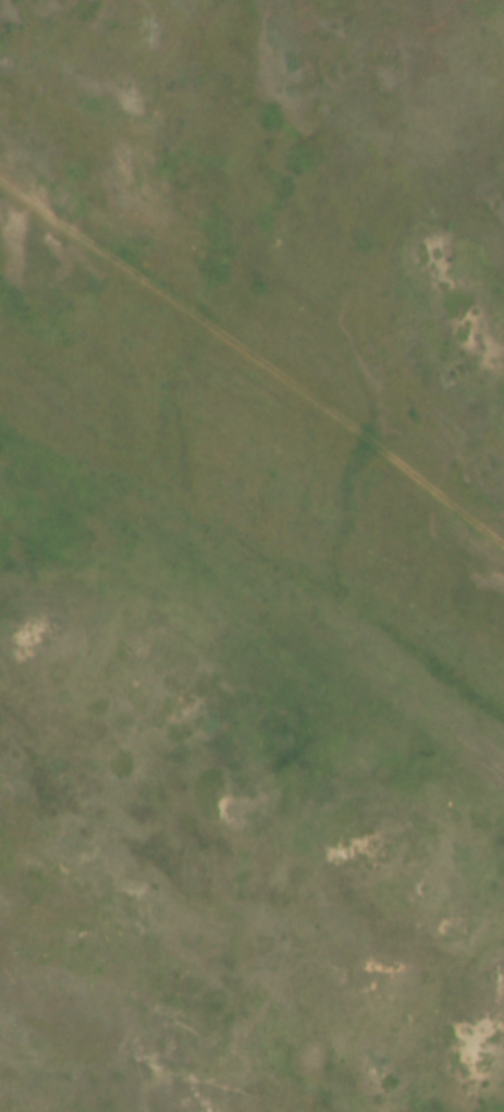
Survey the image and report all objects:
road: (253, 357)

